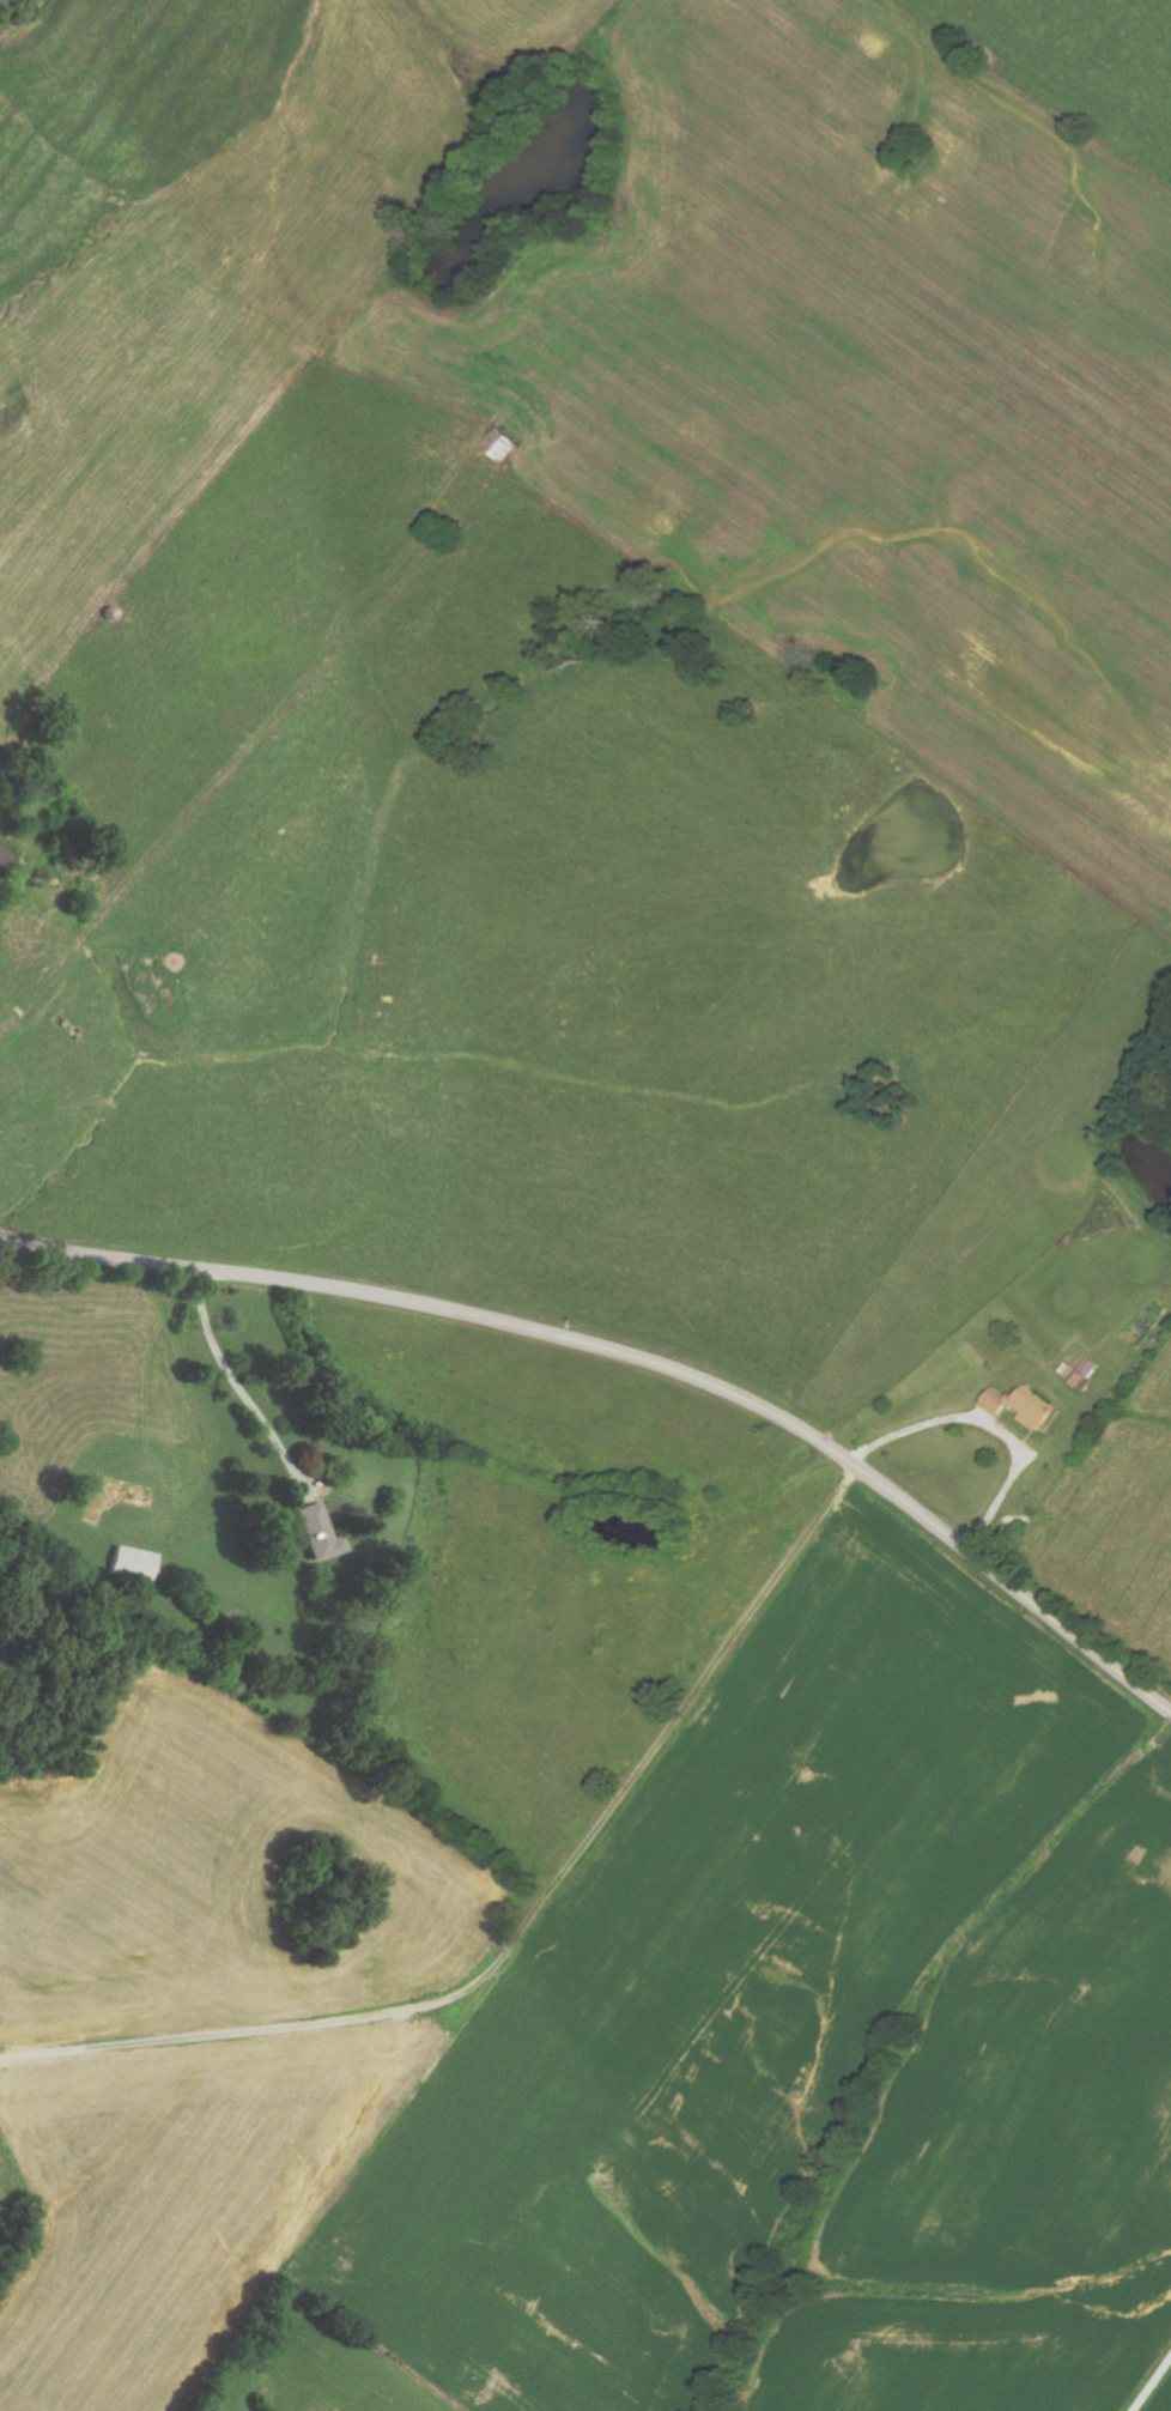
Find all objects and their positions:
road: (636, 1359)
building: (1091, 1367)
road: (238, 1383)
building: (996, 1401)
building: (1032, 1411)
road: (990, 1431)
building: (318, 1534)
building: (134, 1564)
road: (530, 1947)
road: (1153, 2386)

